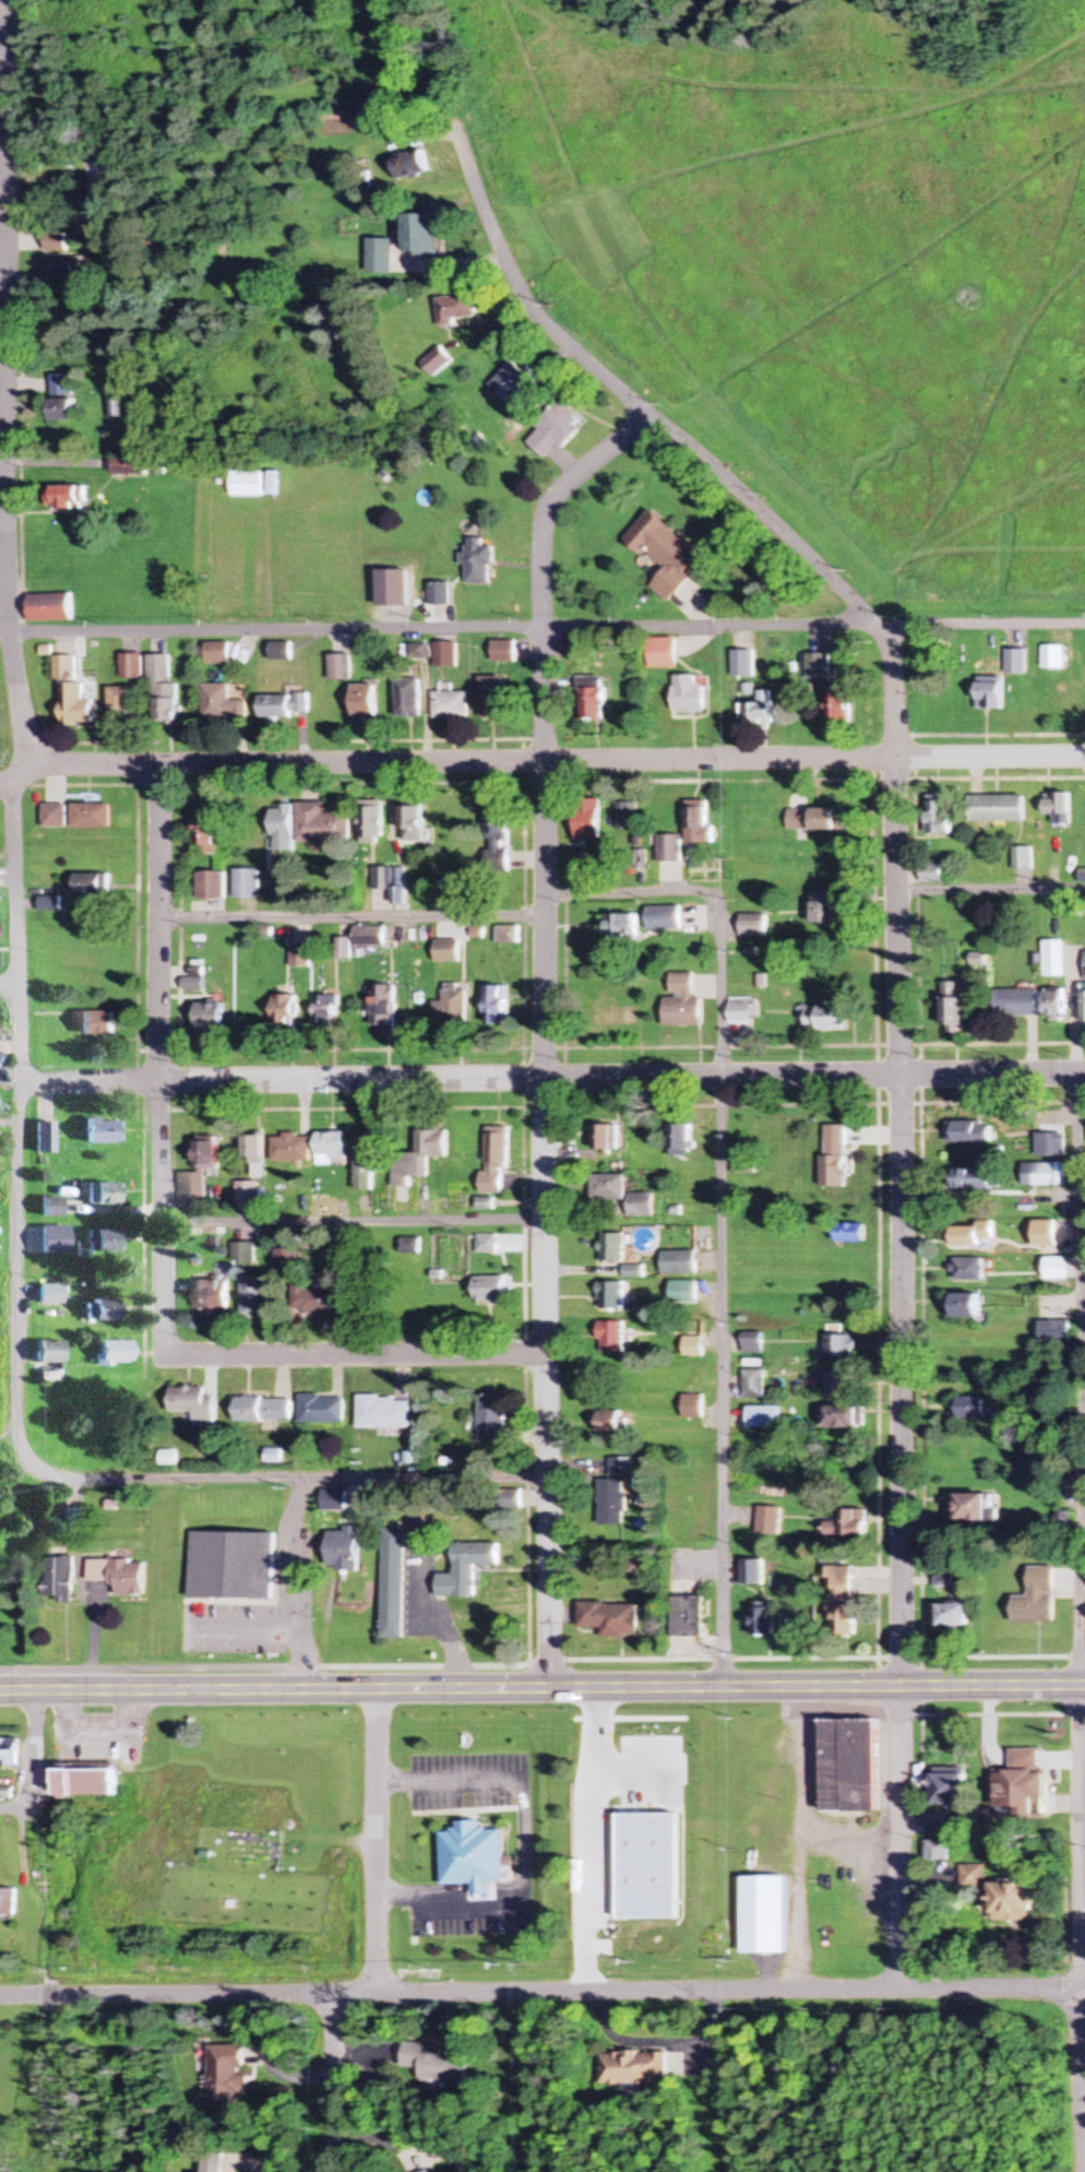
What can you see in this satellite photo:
building: (408, 167)
building: (421, 237)
building: (57, 242)
building: (378, 257)
building: (60, 274)
building: (456, 310)
building: (437, 361)
building: (515, 387)
building: (63, 400)
building: (119, 408)
building: (556, 432)
building: (130, 467)
road: (4, 478)
building: (248, 485)
building: (274, 485)
building: (68, 496)
building: (664, 553)
building: (478, 561)
building: (439, 593)
building: (50, 607)
road: (814, 628)
road: (277, 631)
building: (279, 651)
building: (503, 651)
building: (216, 653)
building: (444, 654)
building: (661, 654)
building: (1054, 657)
building: (1017, 662)
building: (131, 666)
building: (339, 666)
building: (64, 667)
building: (819, 667)
building: (163, 690)
building: (688, 693)
building: (990, 695)
building: (407, 697)
building: (488, 697)
building: (591, 699)
building: (362, 703)
building: (220, 704)
building: (450, 704)
building: (74, 705)
building: (120, 705)
building: (284, 705)
building: (838, 705)
building: (759, 711)
road: (548, 761)
road: (8, 780)
building: (1059, 807)
building: (998, 808)
building: (53, 816)
building: (91, 816)
building: (940, 817)
building: (627, 818)
building: (586, 819)
building: (818, 820)
building: (410, 822)
building: (369, 823)
building: (319, 824)
building: (698, 826)
building: (281, 828)
building: (204, 830)
building: (494, 838)
building: (668, 848)
building: (1022, 857)
building: (932, 874)
building: (389, 881)
building: (245, 882)
building: (91, 885)
building: (210, 885)
road: (991, 887)
building: (48, 904)
building: (827, 909)
road: (350, 915)
building: (663, 917)
road: (158, 921)
building: (619, 926)
building: (754, 926)
building: (505, 935)
building: (367, 938)
building: (445, 951)
building: (1052, 959)
building: (1084, 965)
road: (897, 966)
road: (8, 985)
road: (16, 996)
building: (682, 1002)
building: (1013, 1002)
building: (1083, 1002)
building: (382, 1005)
building: (496, 1005)
building: (1052, 1006)
building: (282, 1007)
building: (451, 1007)
building: (952, 1007)
building: (325, 1010)
building: (622, 1010)
building: (742, 1011)
building: (210, 1014)
building: (822, 1018)
building: (94, 1023)
road: (544, 1025)
road: (551, 1079)
building: (96, 1131)
building: (966, 1131)
building: (679, 1137)
building: (38, 1138)
building: (606, 1138)
building: (1048, 1143)
building: (296, 1147)
building: (332, 1148)
building: (252, 1153)
building: (207, 1154)
building: (420, 1155)
building: (832, 1155)
building: (496, 1159)
building: (739, 1164)
building: (1042, 1173)
building: (970, 1178)
building: (607, 1188)
building: (193, 1190)
building: (96, 1194)
building: (248, 1196)
building: (640, 1204)
building: (44, 1207)
road: (722, 1207)
road: (160, 1218)
road: (353, 1220)
building: (843, 1233)
building: (1041, 1233)
building: (968, 1235)
building: (47, 1241)
building: (97, 1241)
building: (412, 1246)
building: (611, 1248)
building: (245, 1251)
building: (285, 1259)
building: (678, 1263)
building: (965, 1269)
building: (1052, 1269)
building: (491, 1290)
building: (682, 1293)
building: (44, 1295)
building: (207, 1295)
building: (253, 1295)
building: (611, 1296)
building: (312, 1299)
building: (961, 1306)
building: (96, 1310)
building: (1049, 1332)
building: (611, 1339)
building: (751, 1343)
building: (837, 1346)
building: (692, 1348)
building: (43, 1353)
building: (108, 1353)
road: (354, 1355)
road: (1077, 1380)
building: (753, 1385)
building: (837, 1385)
building: (193, 1405)
building: (692, 1408)
building: (970, 1409)
building: (262, 1410)
building: (322, 1410)
building: (384, 1413)
building: (843, 1417)
building: (762, 1419)
building: (492, 1420)
building: (610, 1422)
building: (613, 1493)
building: (333, 1500)
building: (968, 1507)
building: (768, 1522)
building: (847, 1524)
building: (342, 1547)
building: (230, 1565)
building: (465, 1568)
building: (753, 1572)
building: (117, 1575)
building: (58, 1579)
building: (392, 1581)
building: (1042, 1594)
building: (843, 1603)
building: (952, 1615)
building: (688, 1617)
building: (609, 1619)
building: (762, 1623)
road: (274, 1669)
road: (542, 1689)
building: (850, 1766)
building: (646, 1776)
parking lot: (469, 1780)
building: (87, 1783)
building: (950, 1789)
building: (1021, 1789)
road: (523, 1838)
road: (380, 1843)
building: (938, 1850)
building: (473, 1854)
building: (974, 1878)
building: (1013, 1901)
building: (8, 1903)
parking lot: (474, 1908)
building: (766, 1915)
road: (1083, 1927)
road: (542, 1993)
building: (440, 2064)
building: (636, 2068)
building: (227, 2077)
road: (335, 2084)
building: (213, 2163)
building: (428, 2171)

